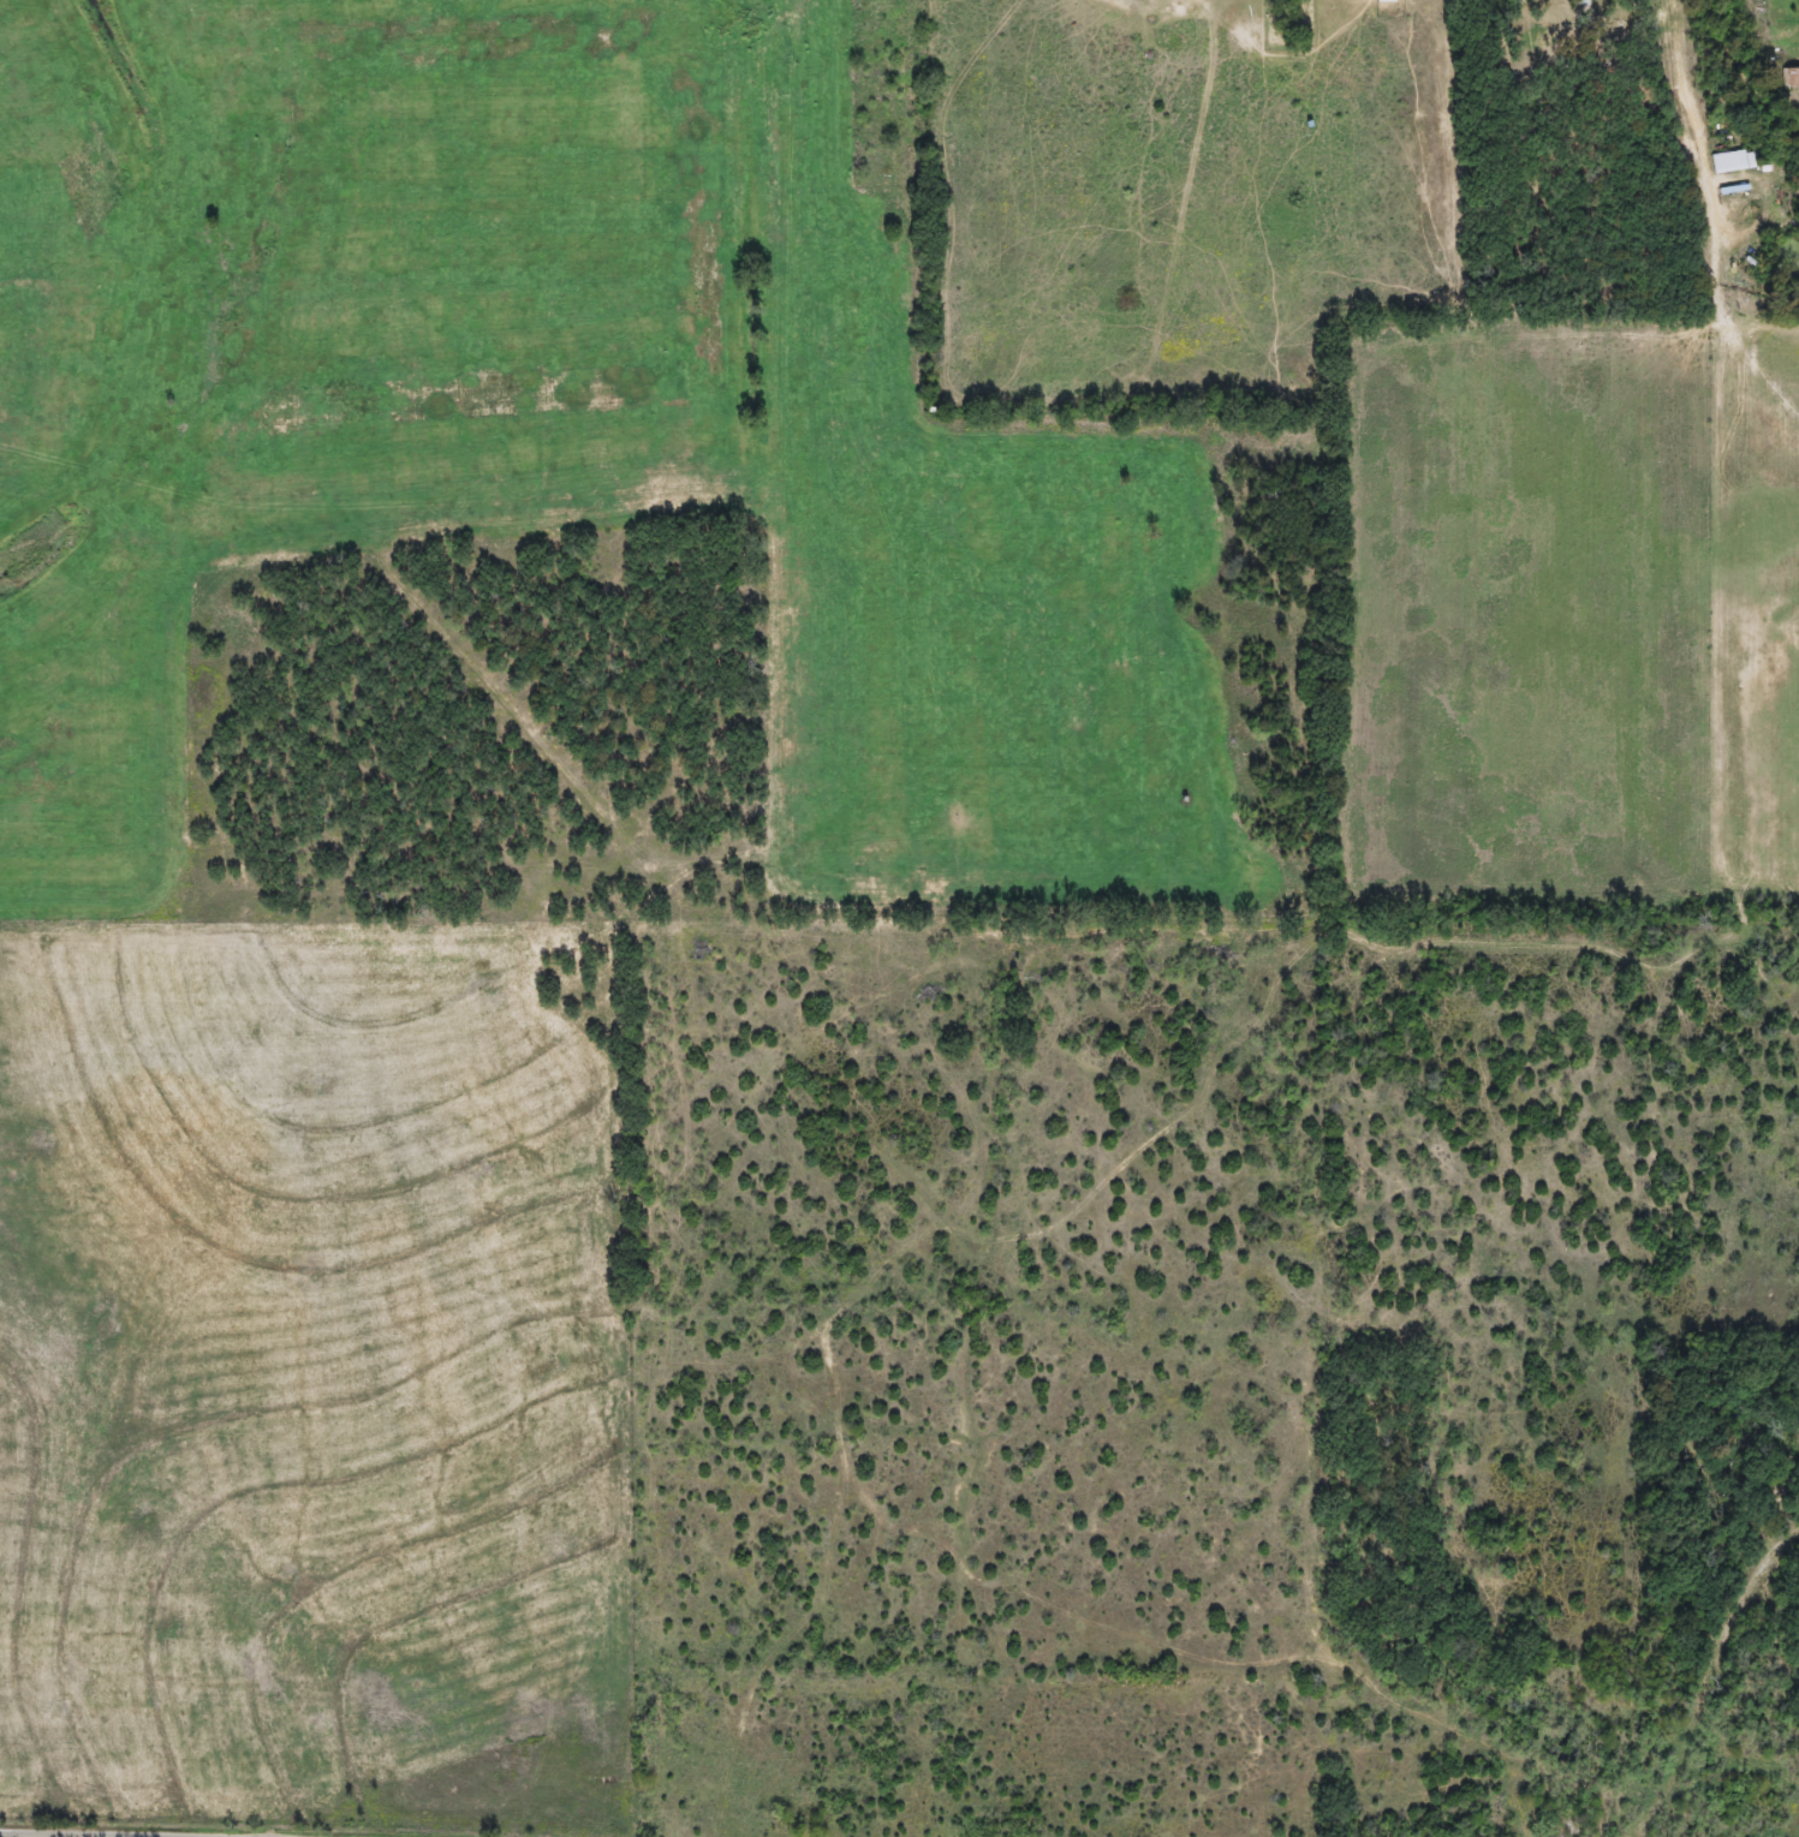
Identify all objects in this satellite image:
building: (1381, 0)
road: (17, 1836)

